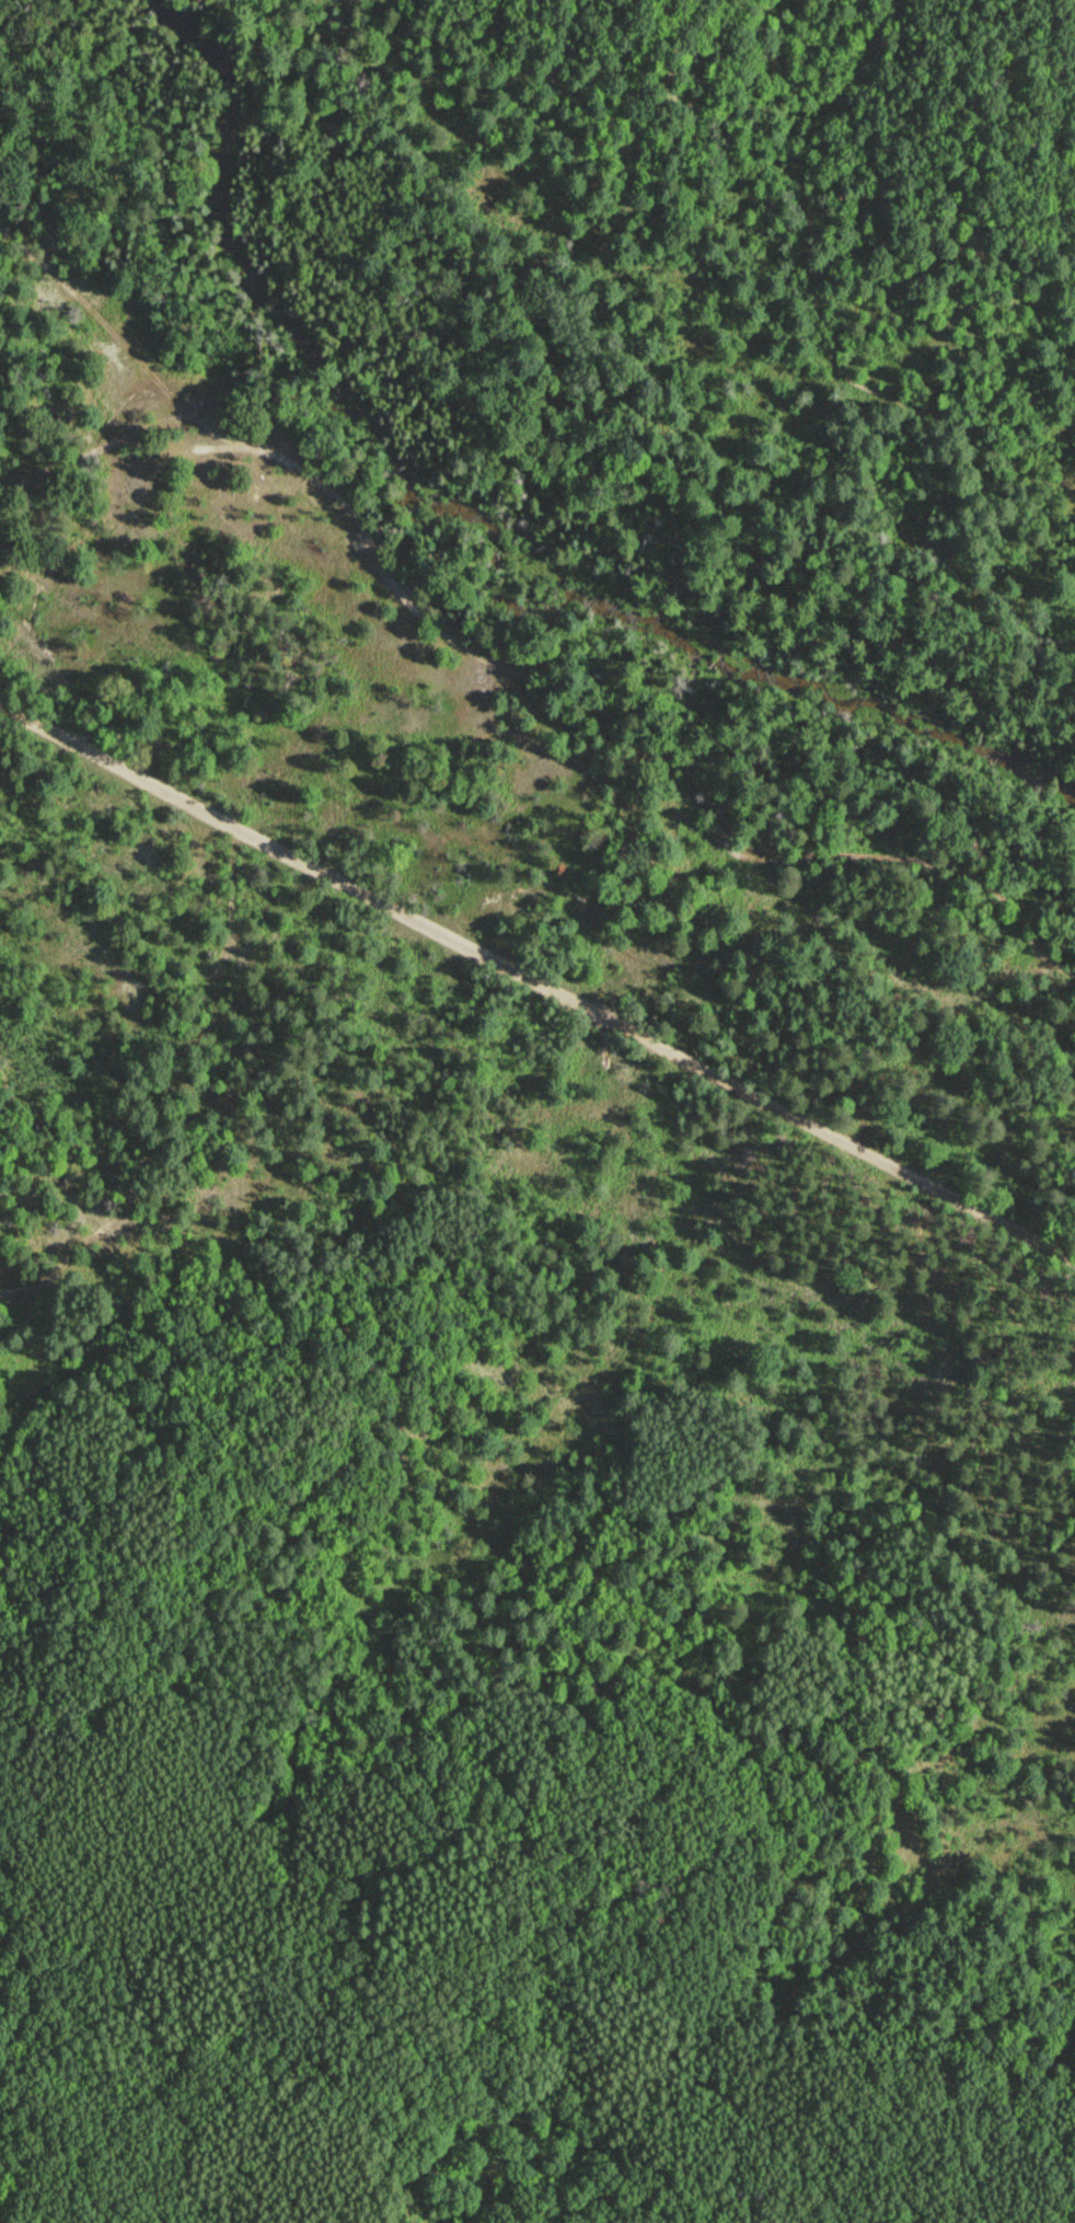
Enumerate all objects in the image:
road: (822, 181)
road: (119, 339)
road: (824, 378)
road: (539, 683)
road: (537, 977)
road: (167, 1089)
road: (870, 1940)

